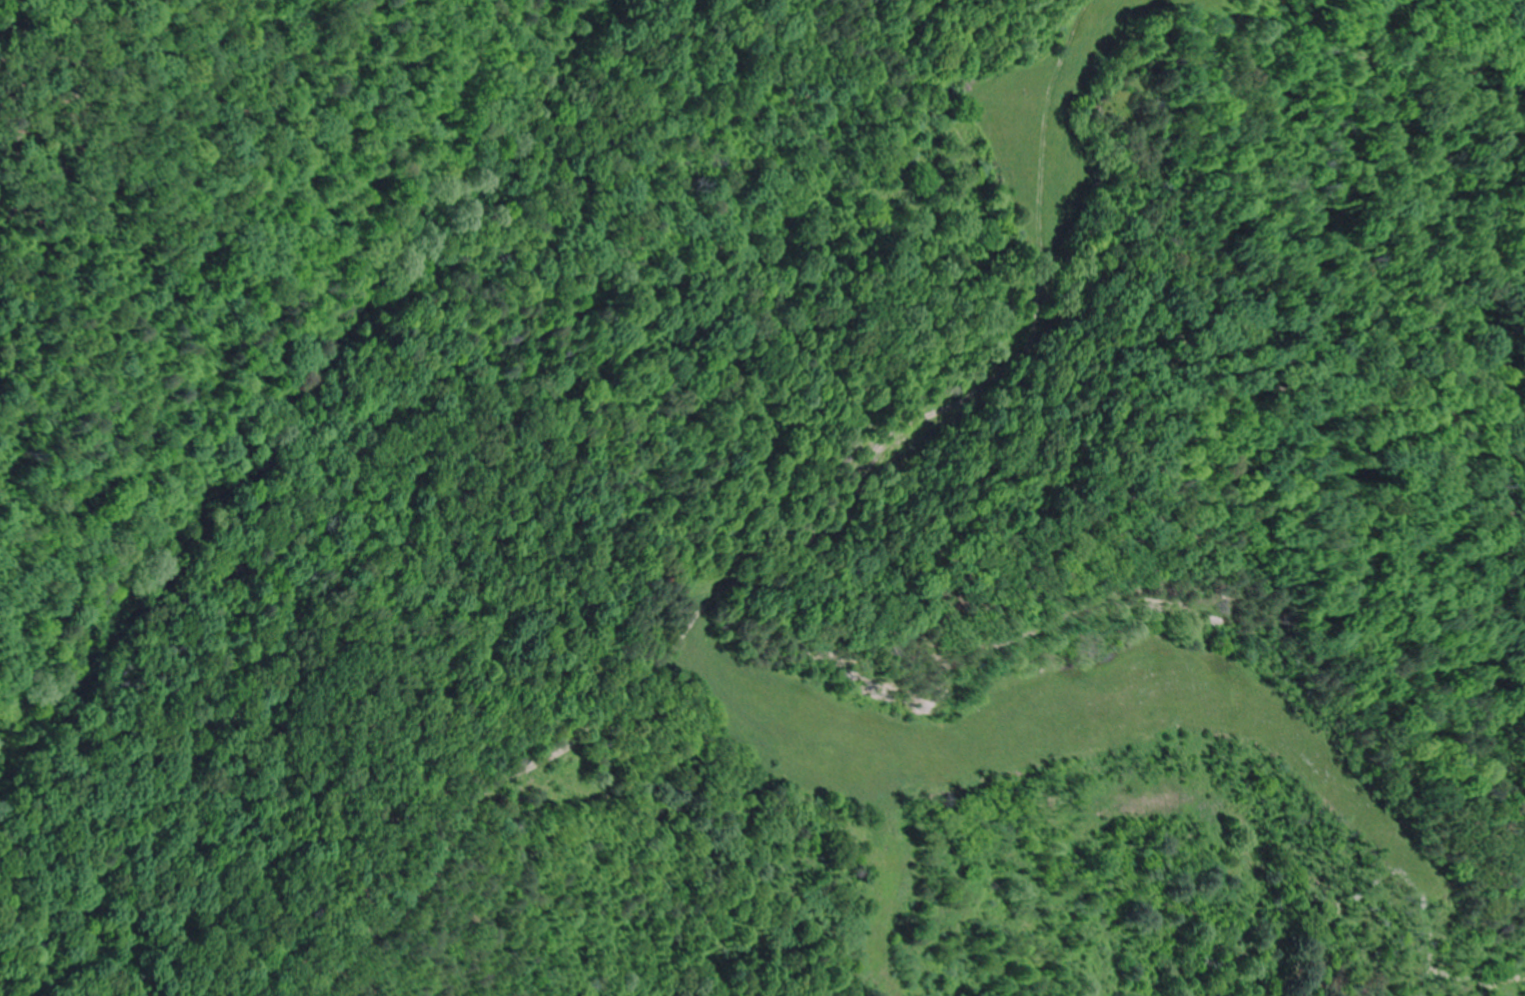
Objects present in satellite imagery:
road: (1082, 885)

